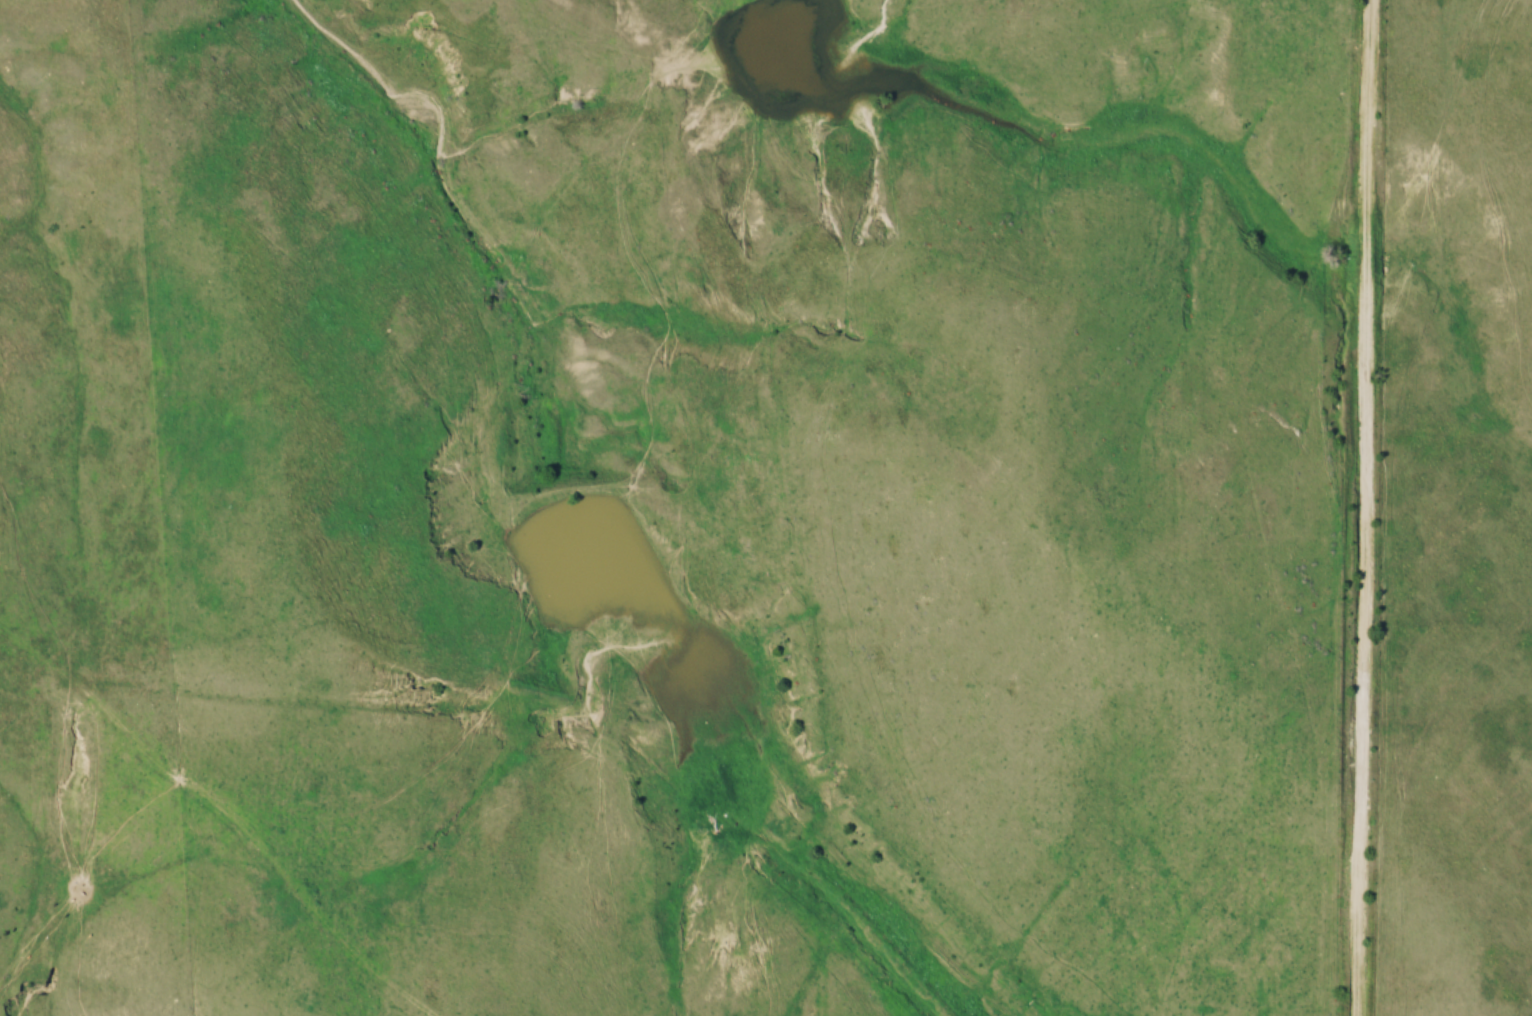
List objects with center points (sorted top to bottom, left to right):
road: (1369, 508)

